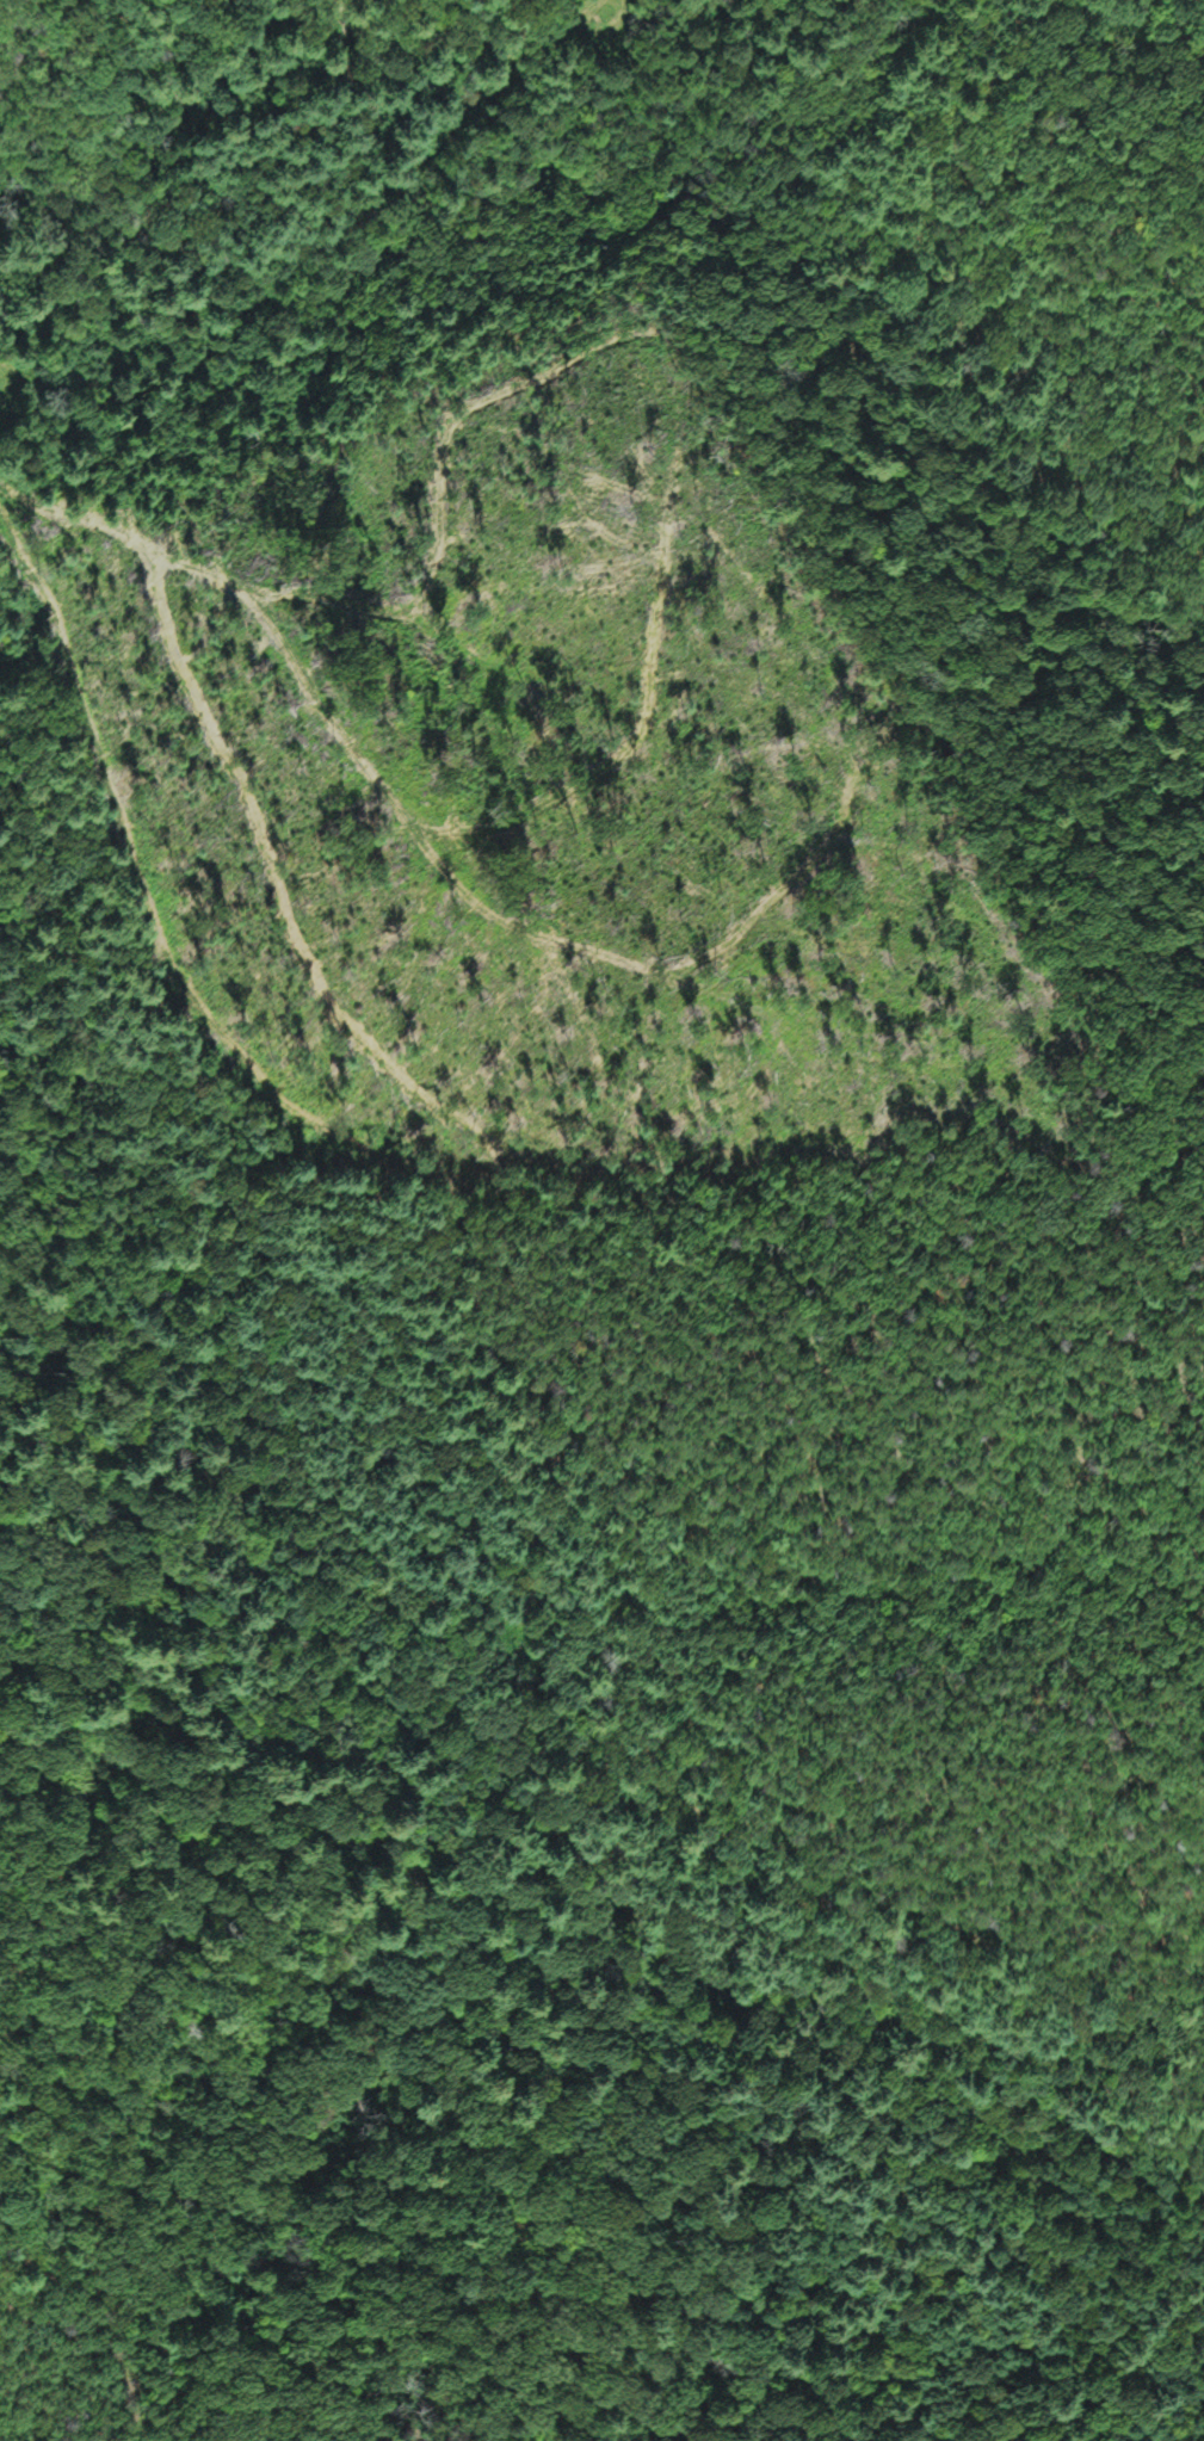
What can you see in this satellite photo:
road: (328, 247)

